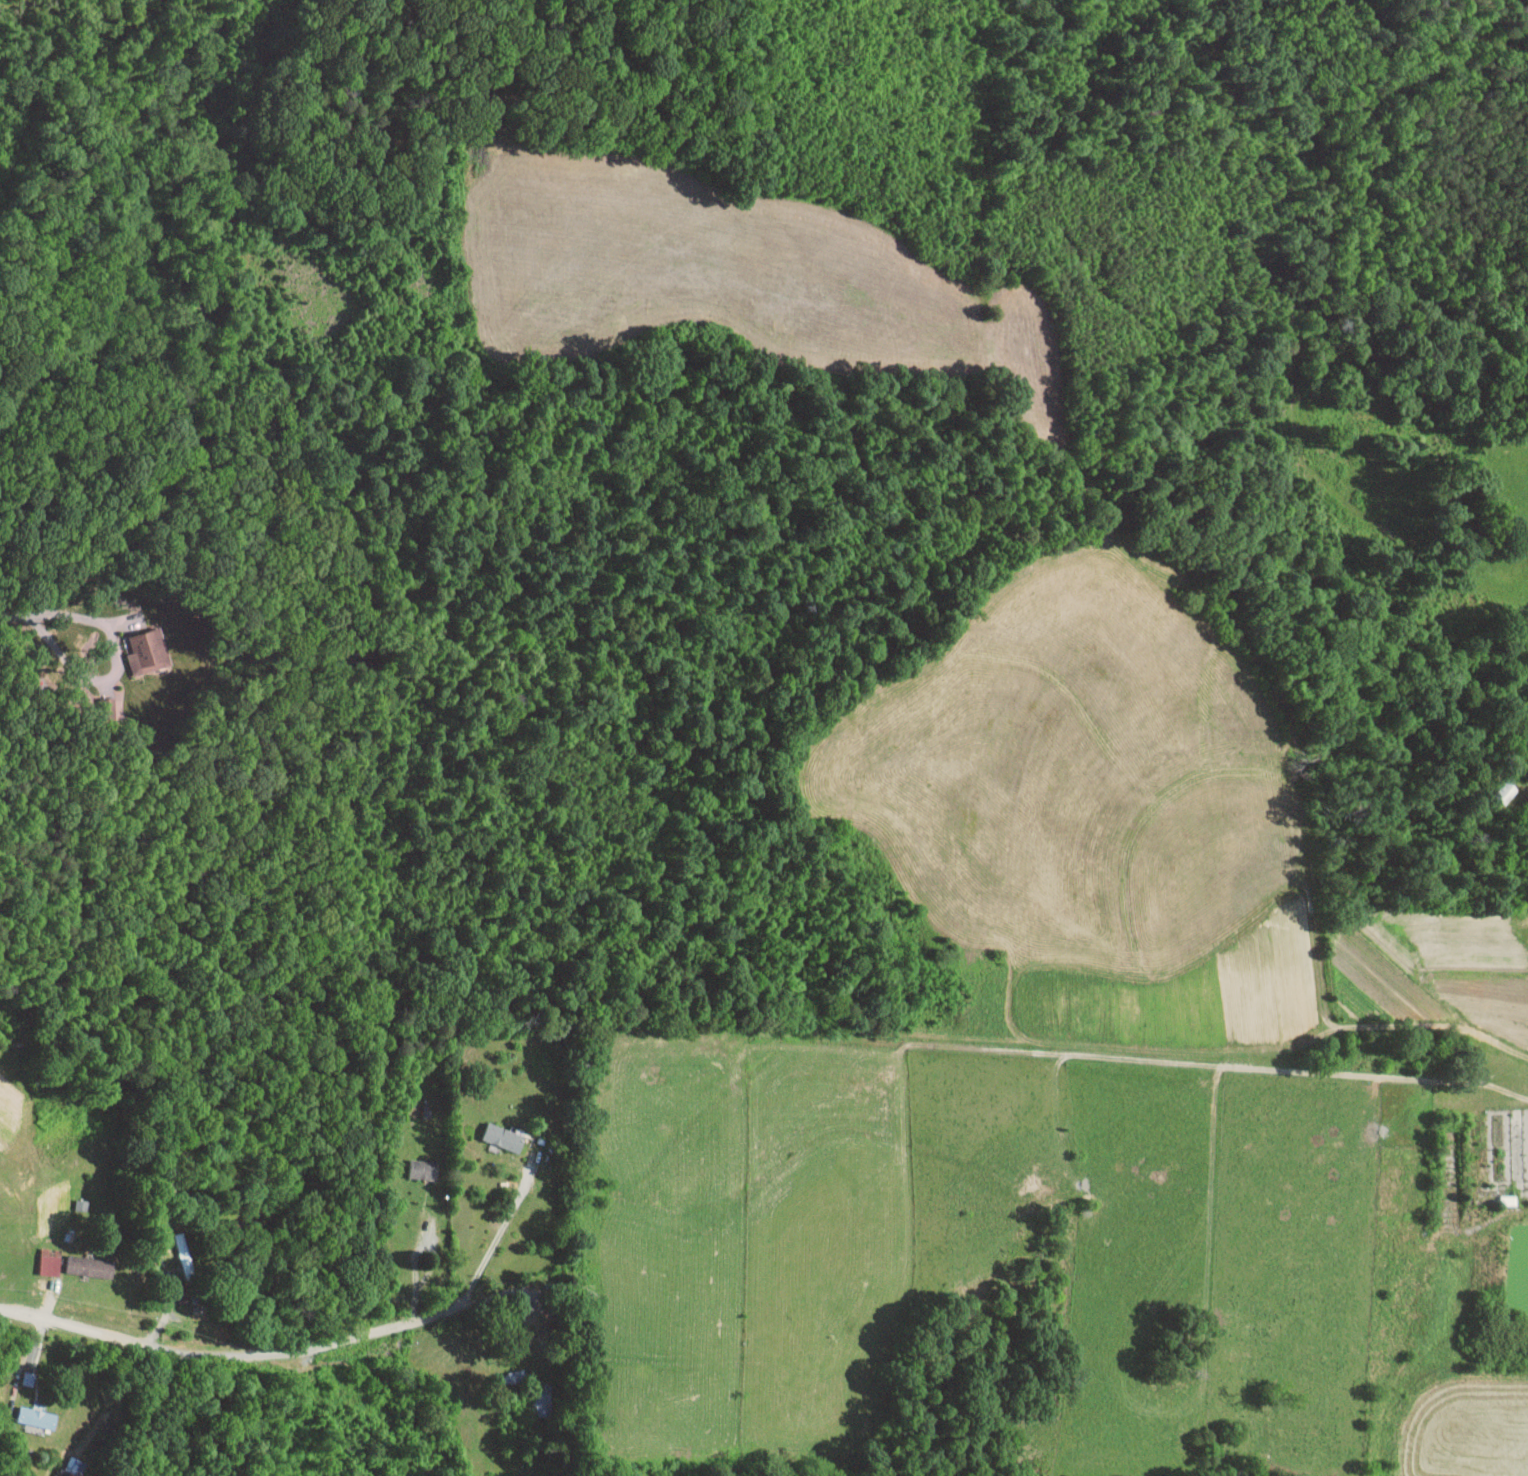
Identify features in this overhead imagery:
road: (15, 615)
building: (145, 649)
road: (115, 666)
building: (503, 1136)
building: (423, 1168)
road: (497, 1237)
building: (50, 1261)
building: (89, 1266)
road: (267, 1352)
building: (513, 1376)
road: (118, 1399)
building: (541, 1401)
building: (36, 1417)
building: (75, 1465)

